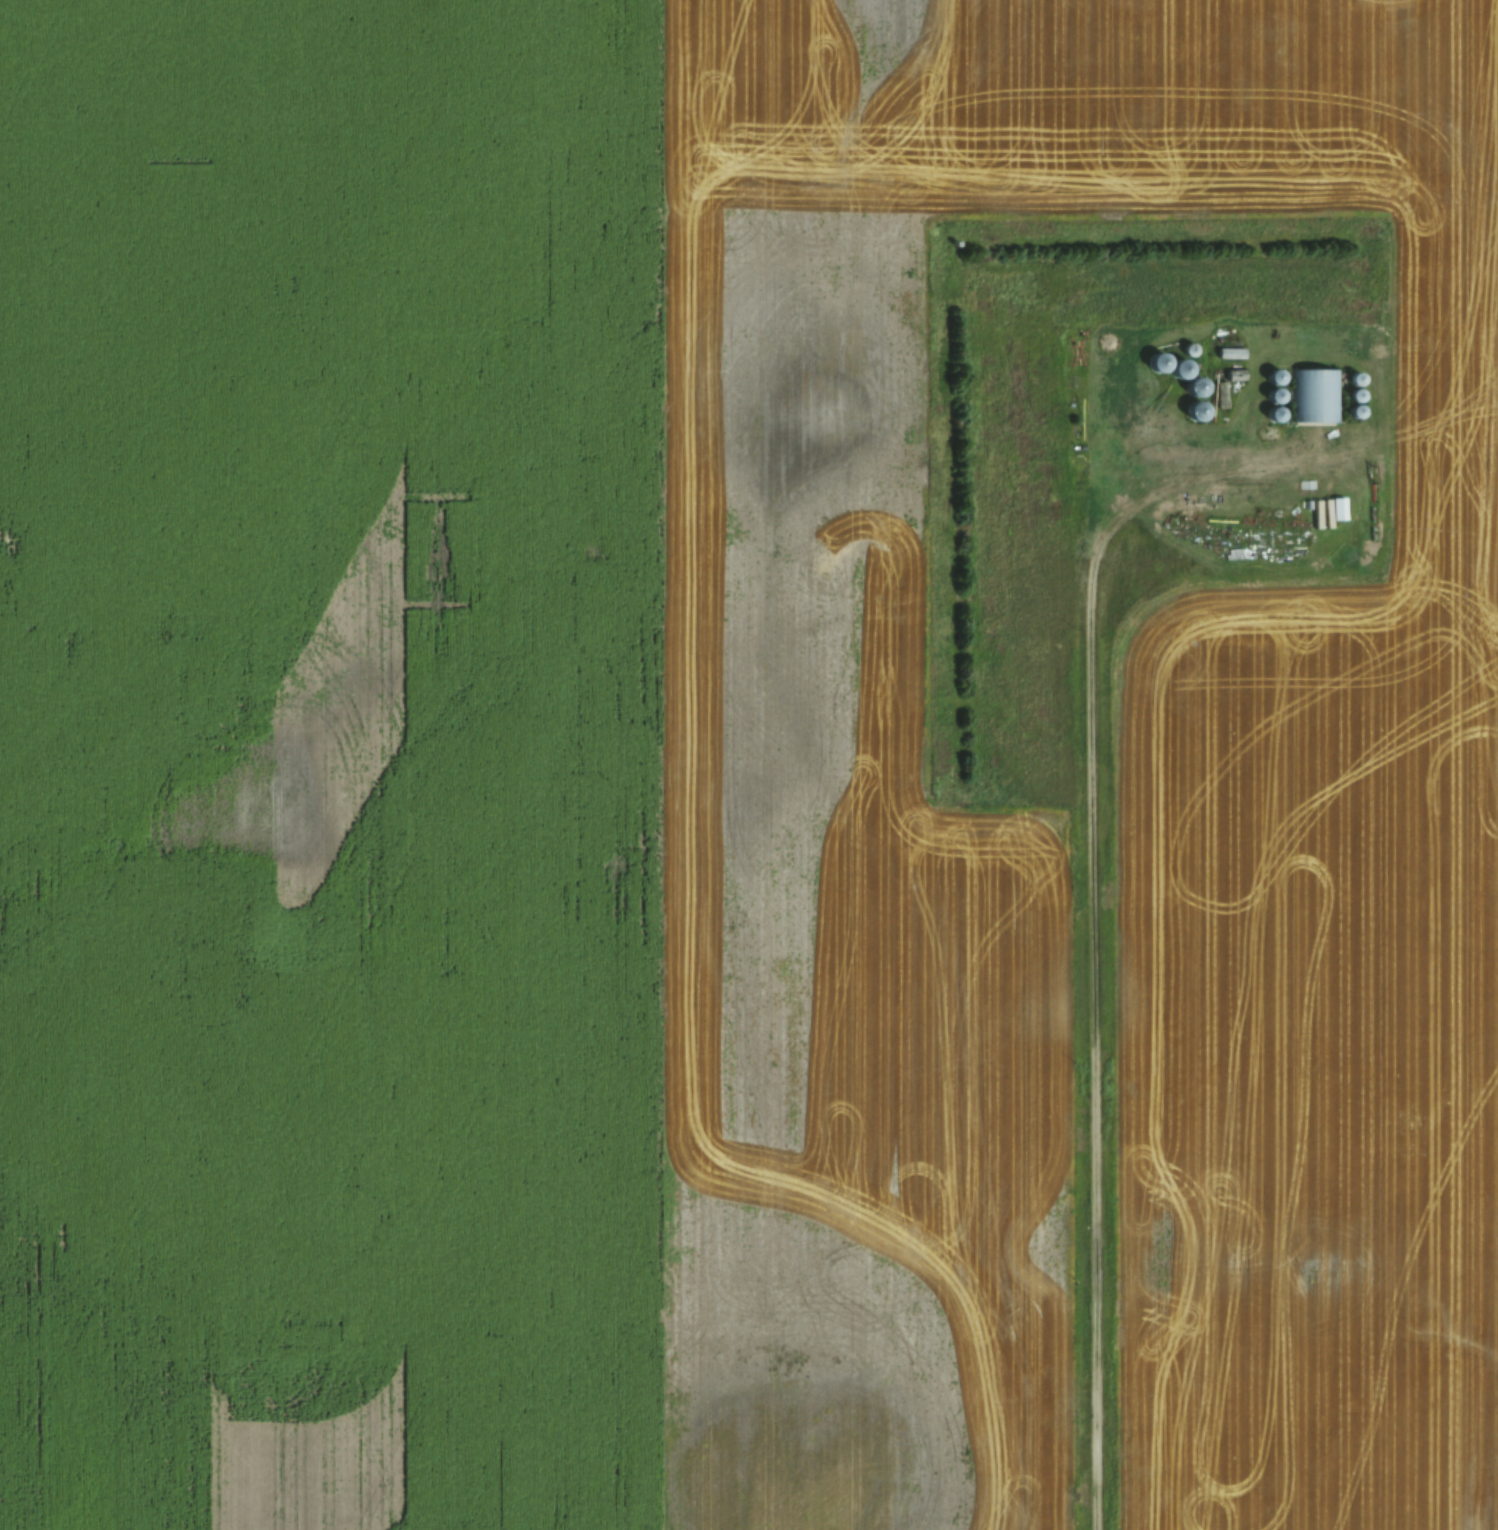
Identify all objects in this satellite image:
building: (1320, 513)

